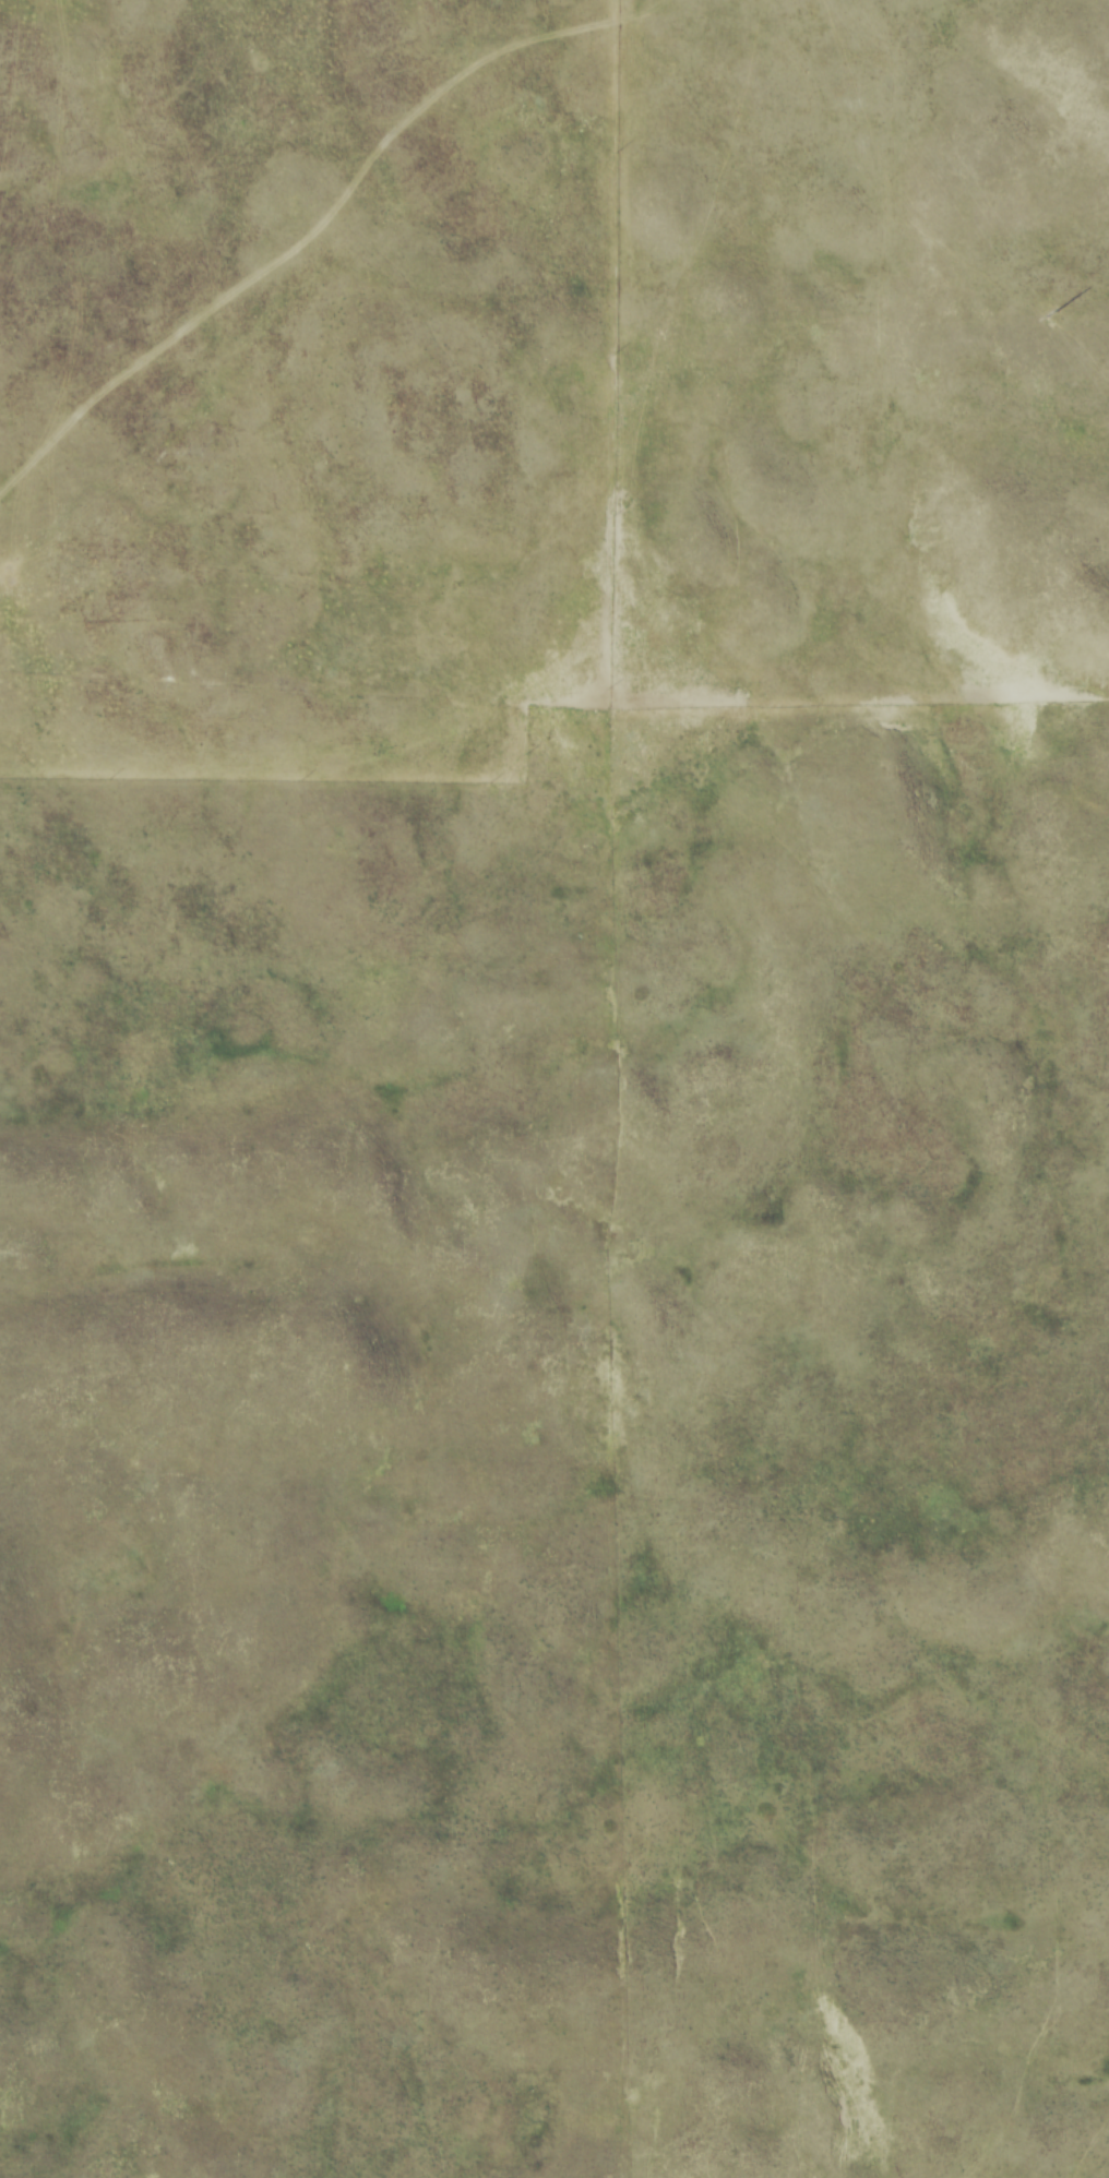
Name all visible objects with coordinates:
power tower: (1057, 311)

